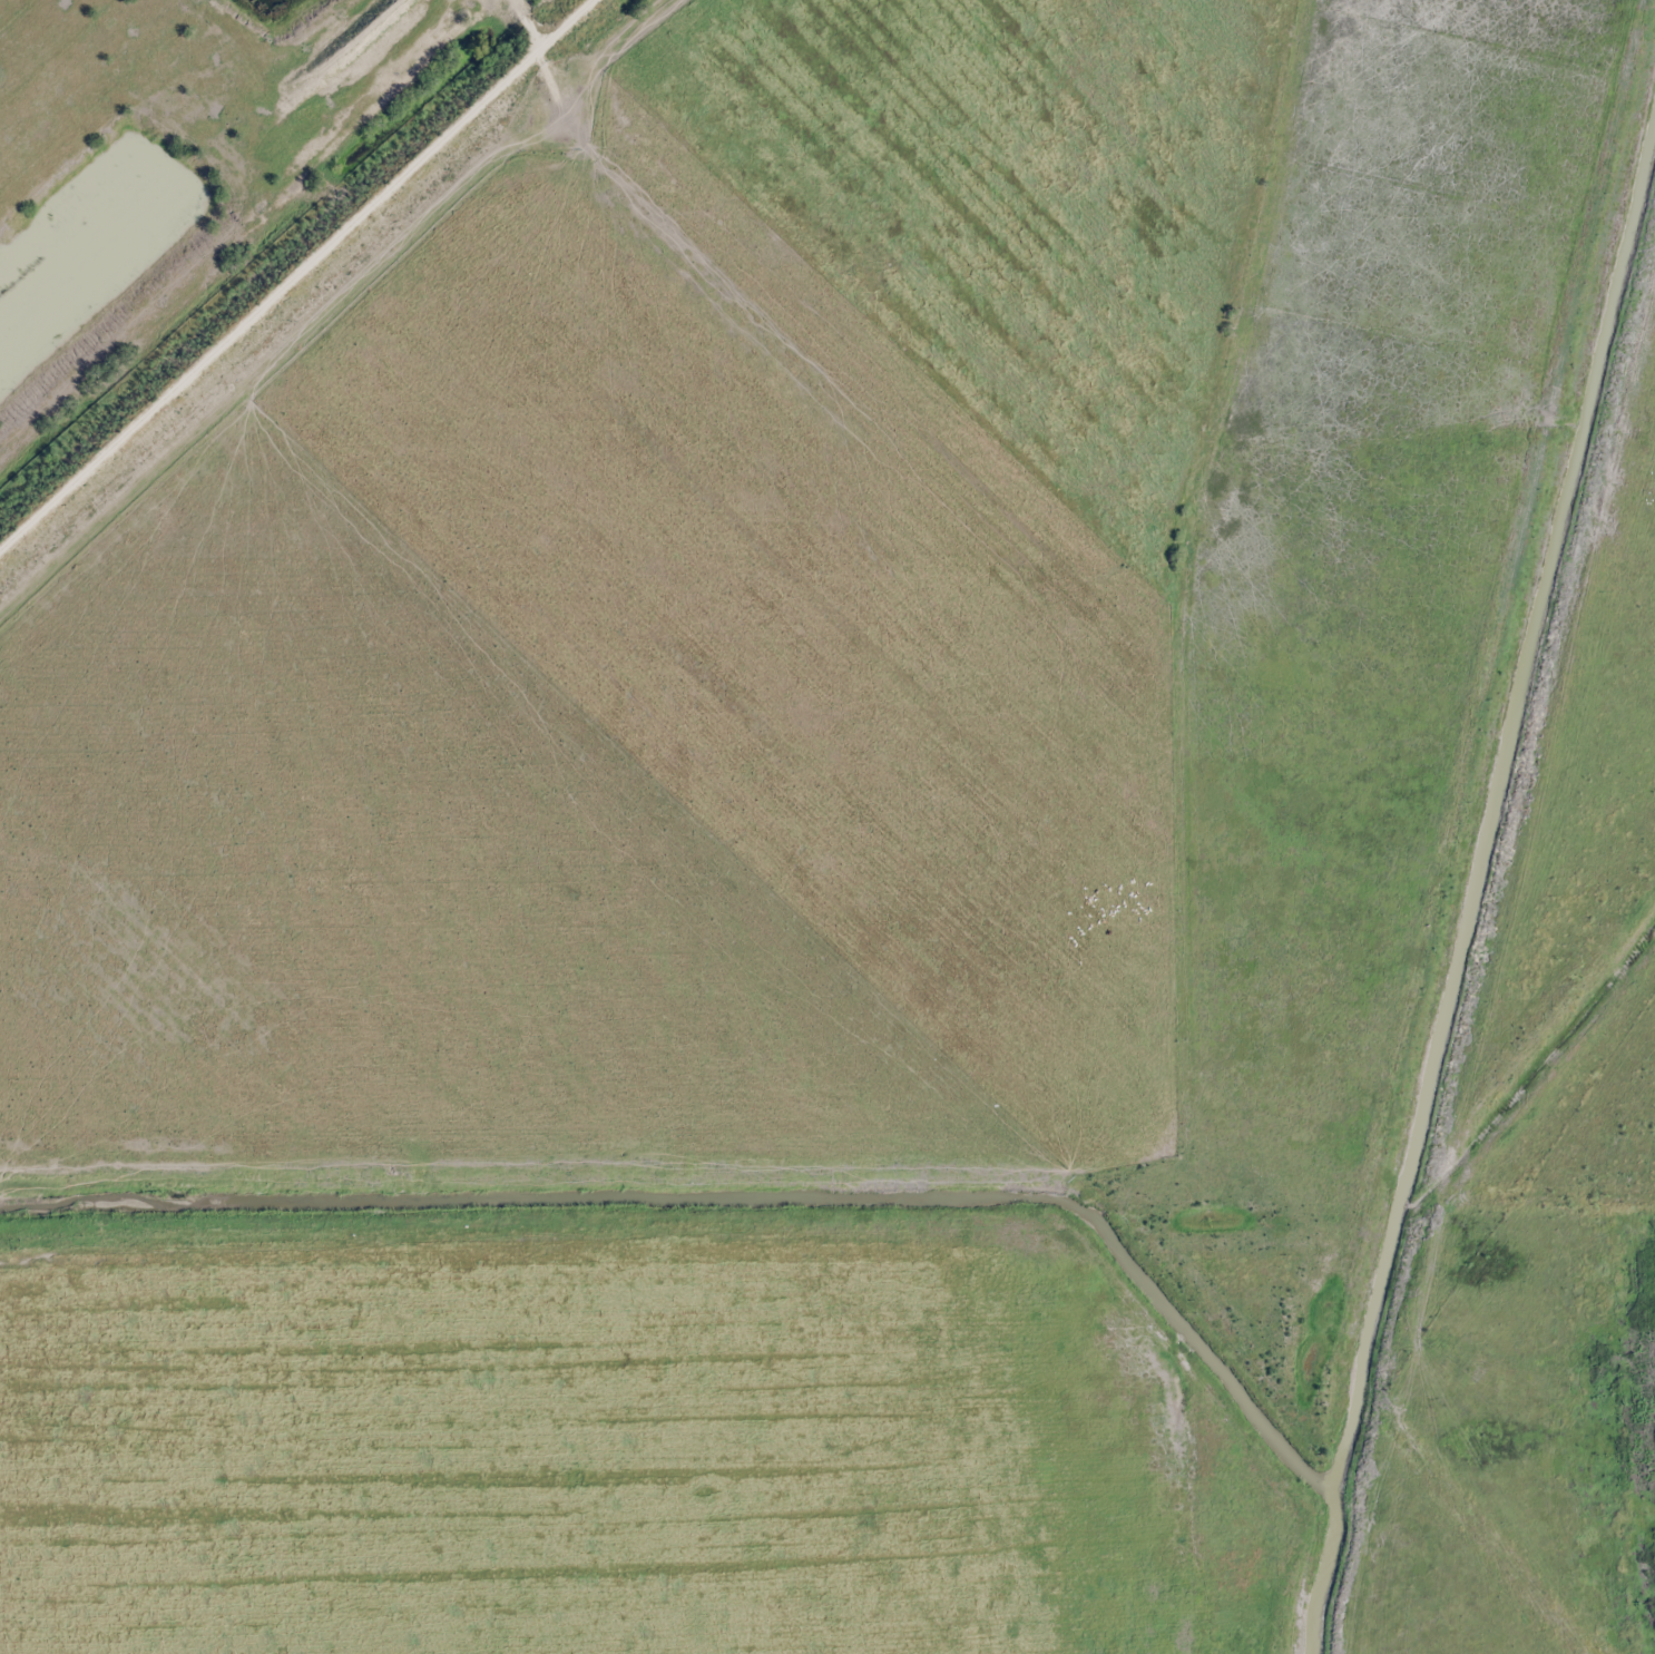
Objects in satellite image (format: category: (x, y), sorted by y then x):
road: (531, 25)
road: (300, 287)

